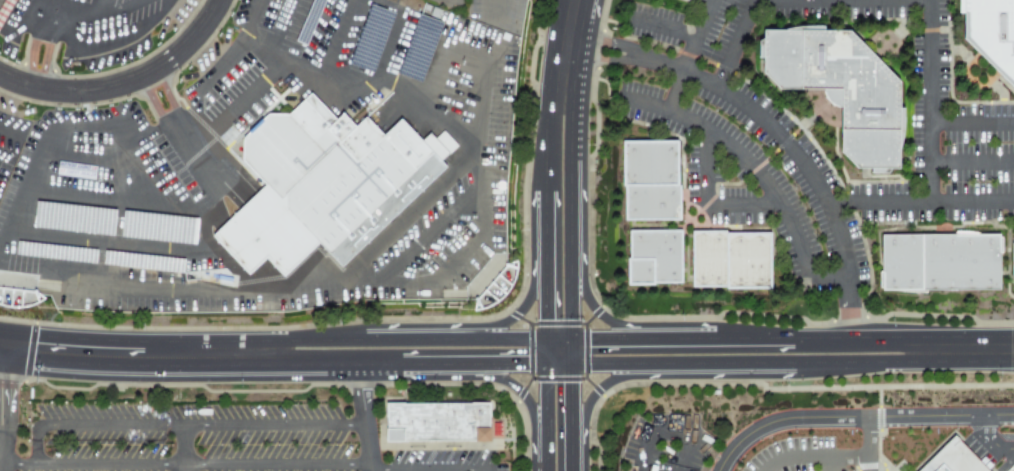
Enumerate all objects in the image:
road: (844, 0)
building: (685, 1)
road: (108, 8)
road: (489, 11)
road: (90, 21)
road: (662, 25)
road: (241, 36)
building: (991, 36)
road: (569, 38)
road: (608, 40)
road: (735, 43)
road: (86, 50)
road: (31, 53)
road: (270, 55)
road: (688, 55)
road: (46, 58)
road: (603, 58)
road: (220, 61)
road: (381, 67)
road: (321, 73)
road: (126, 83)
building: (843, 87)
road: (226, 98)
road: (931, 101)
road: (750, 109)
road: (171, 117)
road: (972, 120)
road: (541, 130)
road: (9, 133)
road: (481, 141)
road: (38, 152)
road: (741, 157)
road: (140, 159)
road: (95, 161)
road: (972, 161)
road: (3, 162)
building: (651, 163)
road: (706, 169)
building: (335, 174)
road: (67, 195)
road: (579, 203)
building: (654, 203)
road: (920, 203)
road: (742, 205)
road: (406, 214)
road: (540, 228)
road: (427, 235)
road: (840, 239)
road: (98, 241)
road: (224, 244)
building: (657, 256)
building: (710, 259)
building: (750, 261)
building: (941, 262)
building: (1012, 262)
road: (826, 277)
building: (493, 280)
road: (249, 291)
road: (540, 298)
road: (848, 304)
road: (518, 308)
road: (601, 308)
traffic signals: (540, 317)
road: (863, 331)
road: (559, 332)
traffic signals: (594, 332)
road: (613, 332)
road: (680, 332)
road: (751, 332)
road: (312, 333)
road: (421, 333)
road: (508, 333)
road: (8, 346)
traffic signals: (42, 349)
road: (972, 350)
road: (540, 351)
road: (579, 351)
road: (140, 353)
road: (757, 370)
road: (506, 371)
traffic signals: (524, 371)
road: (559, 371)
road: (329, 372)
road: (436, 372)
road: (670, 376)
traffic signals: (16, 386)
traffic signals: (580, 388)
road: (516, 395)
road: (16, 399)
road: (540, 404)
road: (580, 404)
road: (855, 416)
road: (367, 421)
road: (90, 424)
building: (443, 425)
road: (276, 426)
road: (672, 432)
road: (991, 440)
road: (868, 443)
road: (1, 446)
road: (185, 448)
road: (642, 450)
road: (540, 454)
road: (580, 455)
road: (684, 455)
road: (814, 456)
building: (951, 458)
road: (1, 459)
road: (242, 463)
road: (834, 463)
road: (483, 468)

